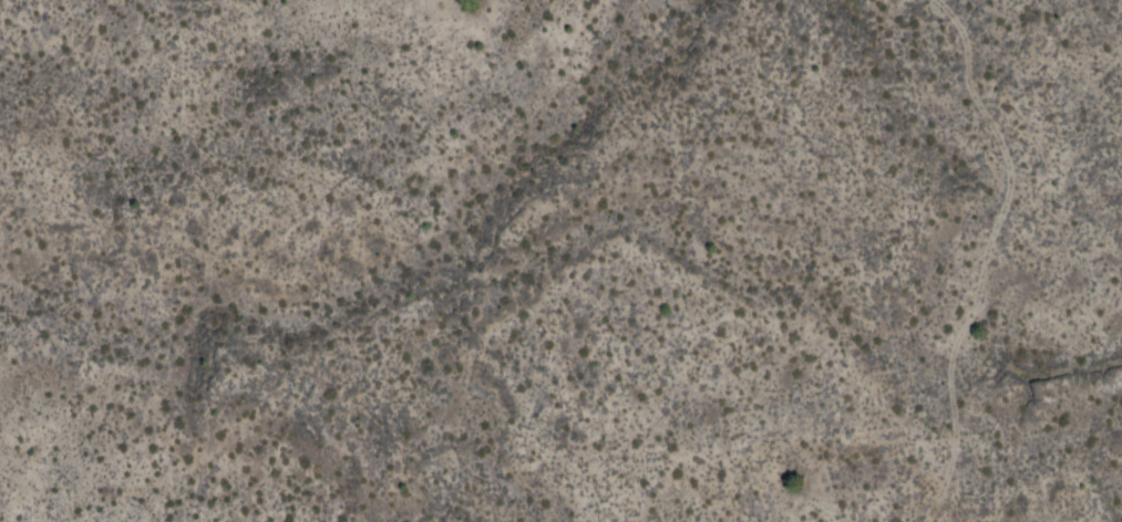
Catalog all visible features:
road: (985, 255)

